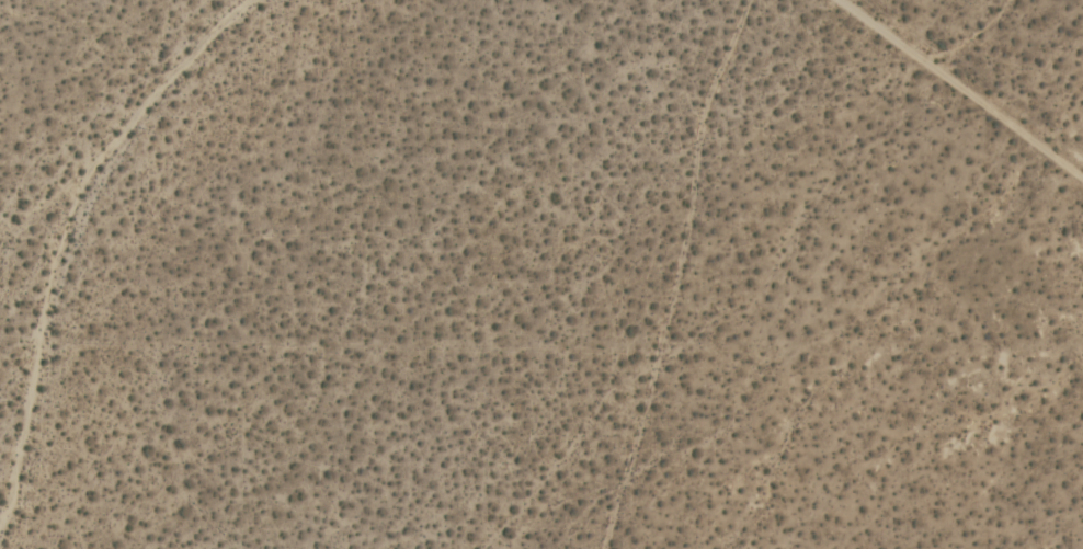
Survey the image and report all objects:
road: (958, 91)

